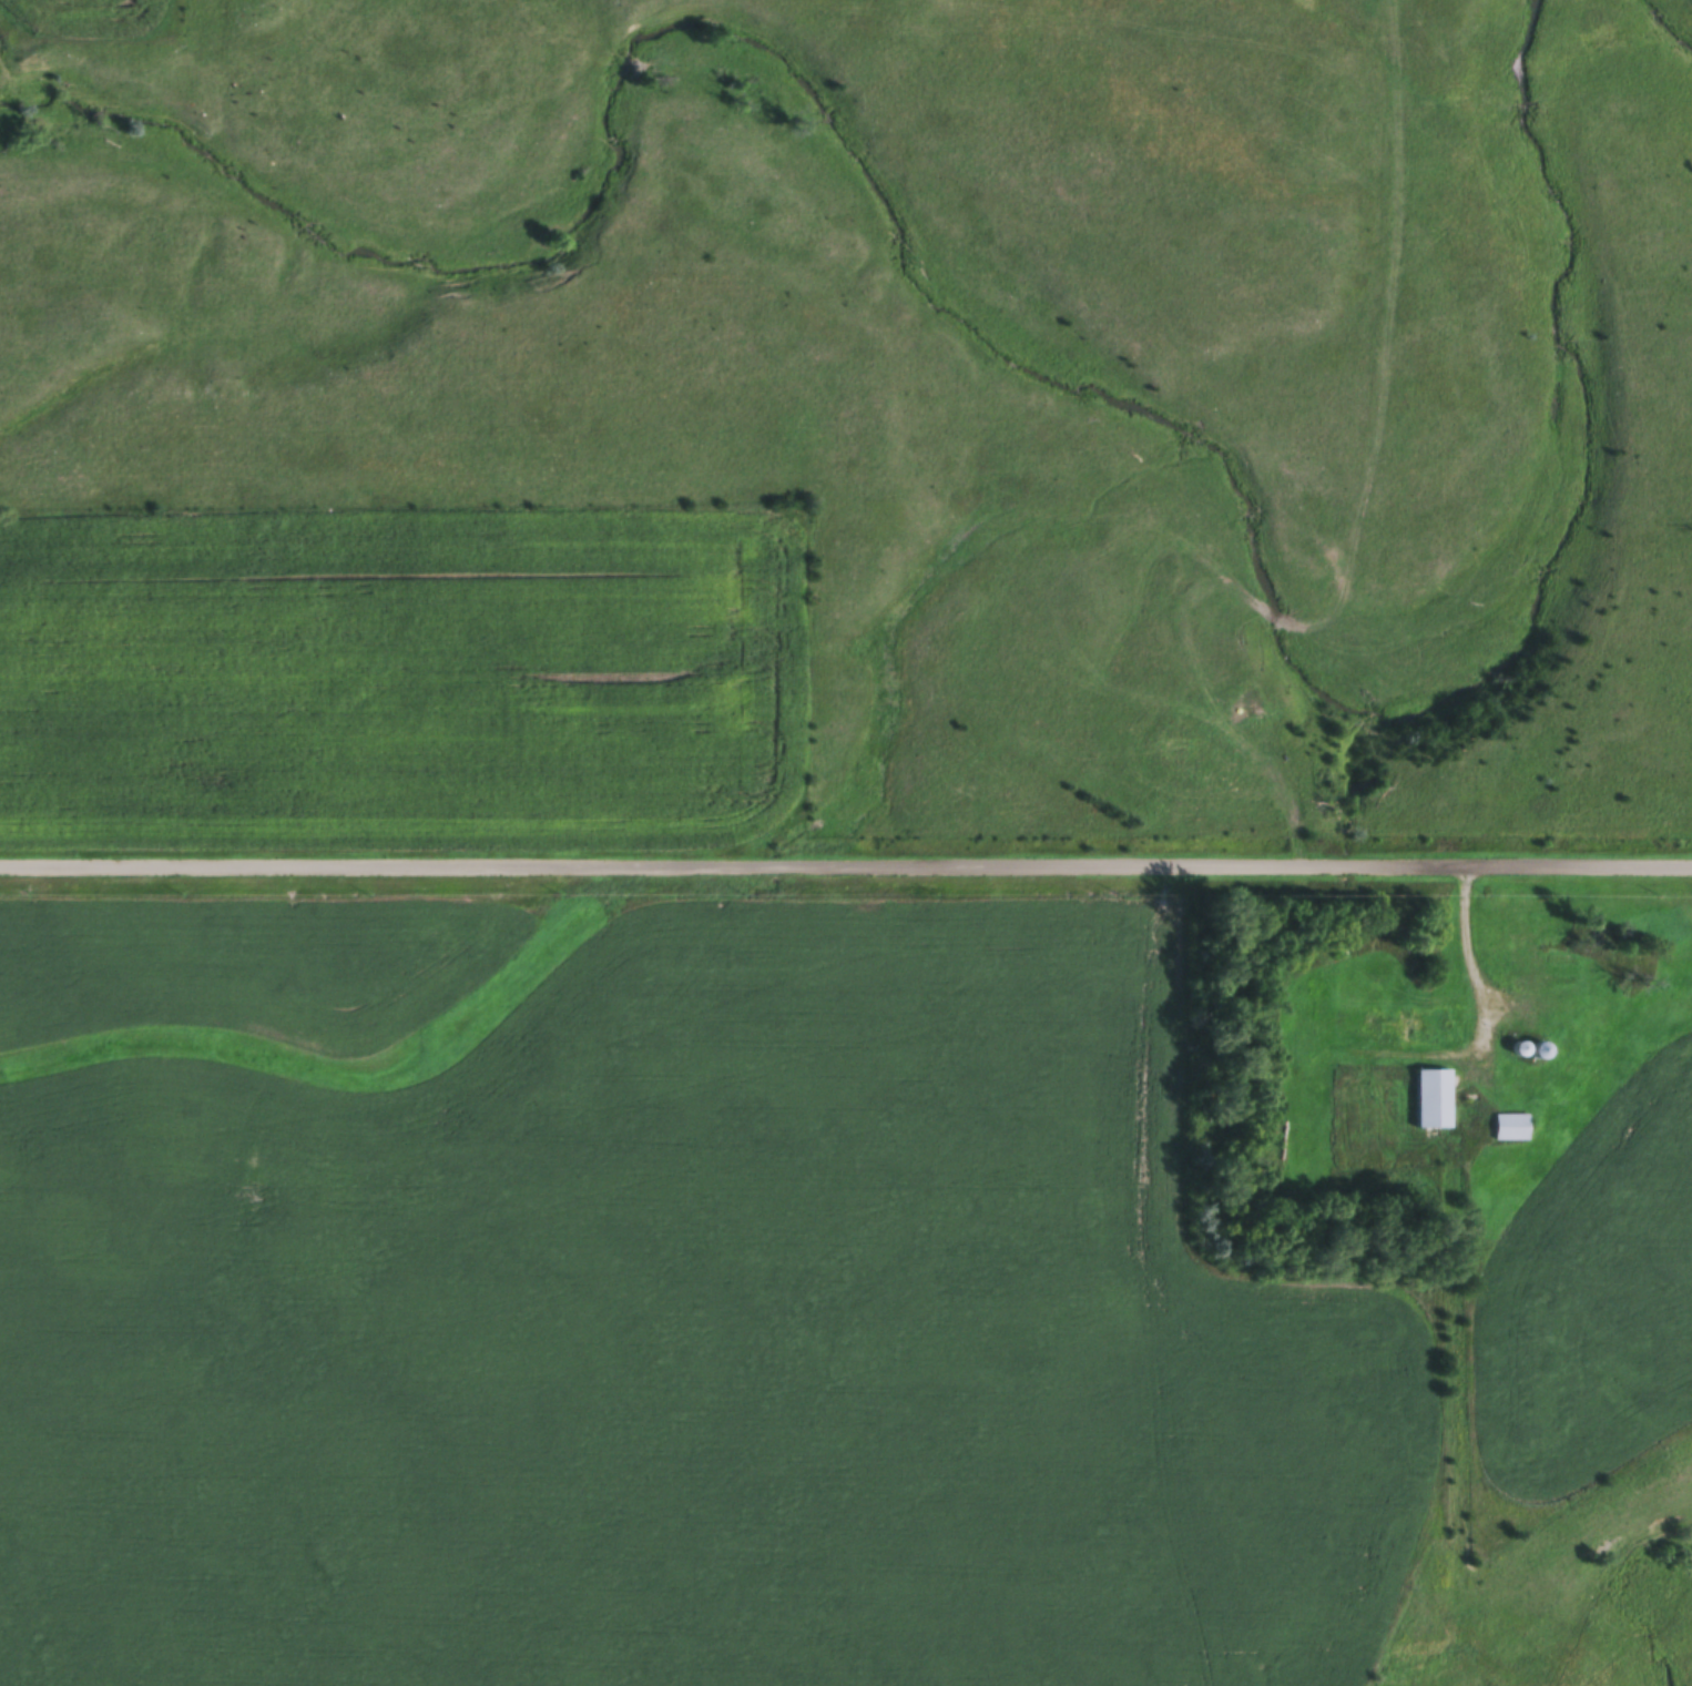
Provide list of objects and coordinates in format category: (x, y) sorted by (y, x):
road: (846, 861)
road: (1478, 976)
building: (1407, 1028)
building: (1429, 1099)
building: (1509, 1128)

